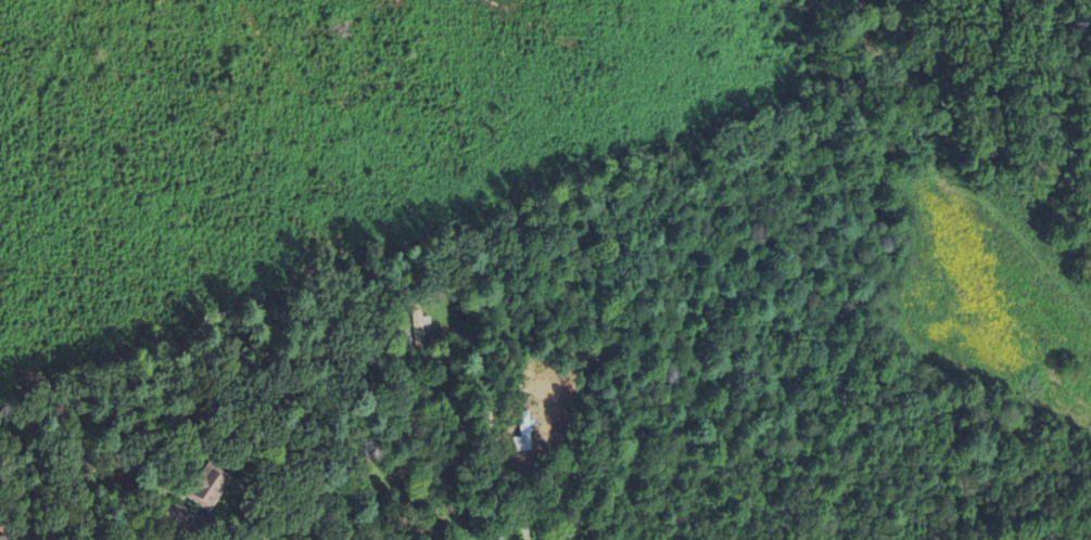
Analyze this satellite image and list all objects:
building: (417, 323)
building: (525, 367)
building: (442, 373)
road: (492, 428)
building: (523, 430)
building: (207, 486)
road: (522, 497)
building: (175, 514)
road: (225, 525)
building: (55, 526)
building: (176, 536)

